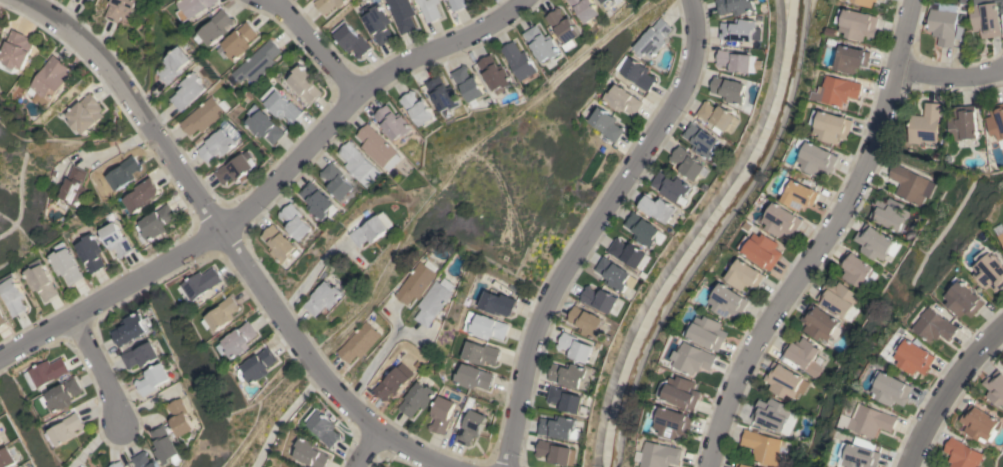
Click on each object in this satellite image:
building: (880, 0)
building: (602, 1)
building: (867, 2)
building: (611, 3)
building: (328, 4)
building: (457, 4)
building: (735, 6)
building: (192, 7)
building: (120, 9)
building: (429, 9)
building: (585, 9)
building: (402, 14)
building: (987, 17)
building: (377, 22)
building: (858, 23)
building: (943, 23)
building: (562, 25)
building: (215, 27)
building: (739, 30)
building: (652, 38)
building: (352, 41)
building: (237, 42)
building: (541, 43)
road: (316, 45)
building: (15, 52)
building: (853, 58)
building: (518, 61)
building: (738, 61)
building: (256, 63)
building: (173, 64)
building: (635, 73)
building: (494, 74)
road: (948, 76)
building: (48, 81)
building: (467, 83)
building: (304, 84)
building: (729, 89)
building: (838, 90)
building: (188, 91)
building: (441, 94)
building: (622, 100)
building: (279, 105)
building: (417, 108)
building: (85, 113)
building: (204, 115)
building: (719, 116)
building: (393, 122)
building: (963, 122)
building: (996, 122)
building: (605, 124)
building: (831, 126)
building: (925, 126)
building: (264, 127)
building: (702, 140)
building: (217, 145)
building: (379, 147)
power tower: (491, 159)
building: (817, 159)
building: (357, 161)
building: (689, 163)
building: (233, 169)
building: (124, 172)
building: (337, 181)
building: (908, 184)
road: (267, 186)
building: (73, 187)
building: (672, 187)
building: (798, 194)
building: (142, 195)
building: (317, 200)
building: (659, 208)
building: (889, 213)
building: (782, 220)
building: (156, 222)
building: (296, 222)
road: (592, 227)
building: (372, 229)
building: (645, 230)
building: (1001, 236)
road: (229, 237)
building: (115, 239)
road: (821, 239)
building: (873, 241)
building: (280, 243)
building: (762, 249)
building: (628, 252)
building: (90, 253)
building: (65, 265)
building: (855, 268)
building: (990, 269)
road: (310, 272)
building: (614, 274)
building: (745, 275)
building: (40, 282)
building: (200, 283)
building: (415, 283)
building: (13, 296)
building: (322, 298)
building: (600, 298)
building: (837, 298)
building: (965, 300)
building: (434, 301)
building: (729, 301)
building: (496, 303)
building: (222, 313)
building: (2, 320)
building: (587, 321)
building: (818, 322)
building: (937, 324)
building: (484, 326)
building: (133, 328)
building: (708, 332)
power tower: (323, 334)
building: (238, 339)
building: (358, 342)
building: (575, 347)
building: (480, 353)
building: (141, 355)
building: (803, 355)
building: (914, 356)
building: (694, 358)
road: (370, 363)
building: (256, 366)
road: (100, 370)
building: (46, 371)
building: (572, 375)
building: (473, 377)
building: (154, 379)
building: (785, 381)
building: (391, 384)
building: (995, 388)
building: (891, 389)
building: (682, 392)
road: (948, 394)
building: (60, 395)
building: (416, 399)
building: (565, 399)
building: (441, 414)
building: (770, 414)
building: (183, 417)
road: (281, 417)
building: (868, 420)
building: (674, 423)
building: (979, 424)
building: (471, 427)
building: (559, 427)
building: (322, 428)
building: (65, 429)
building: (0, 432)
building: (0, 434)
building: (1, 441)
building: (167, 446)
building: (765, 447)
road: (362, 450)
building: (306, 452)
building: (556, 453)
building: (860, 454)
building: (961, 454)
building: (658, 455)
building: (10, 456)
building: (145, 460)
building: (117, 464)
building: (743, 464)

